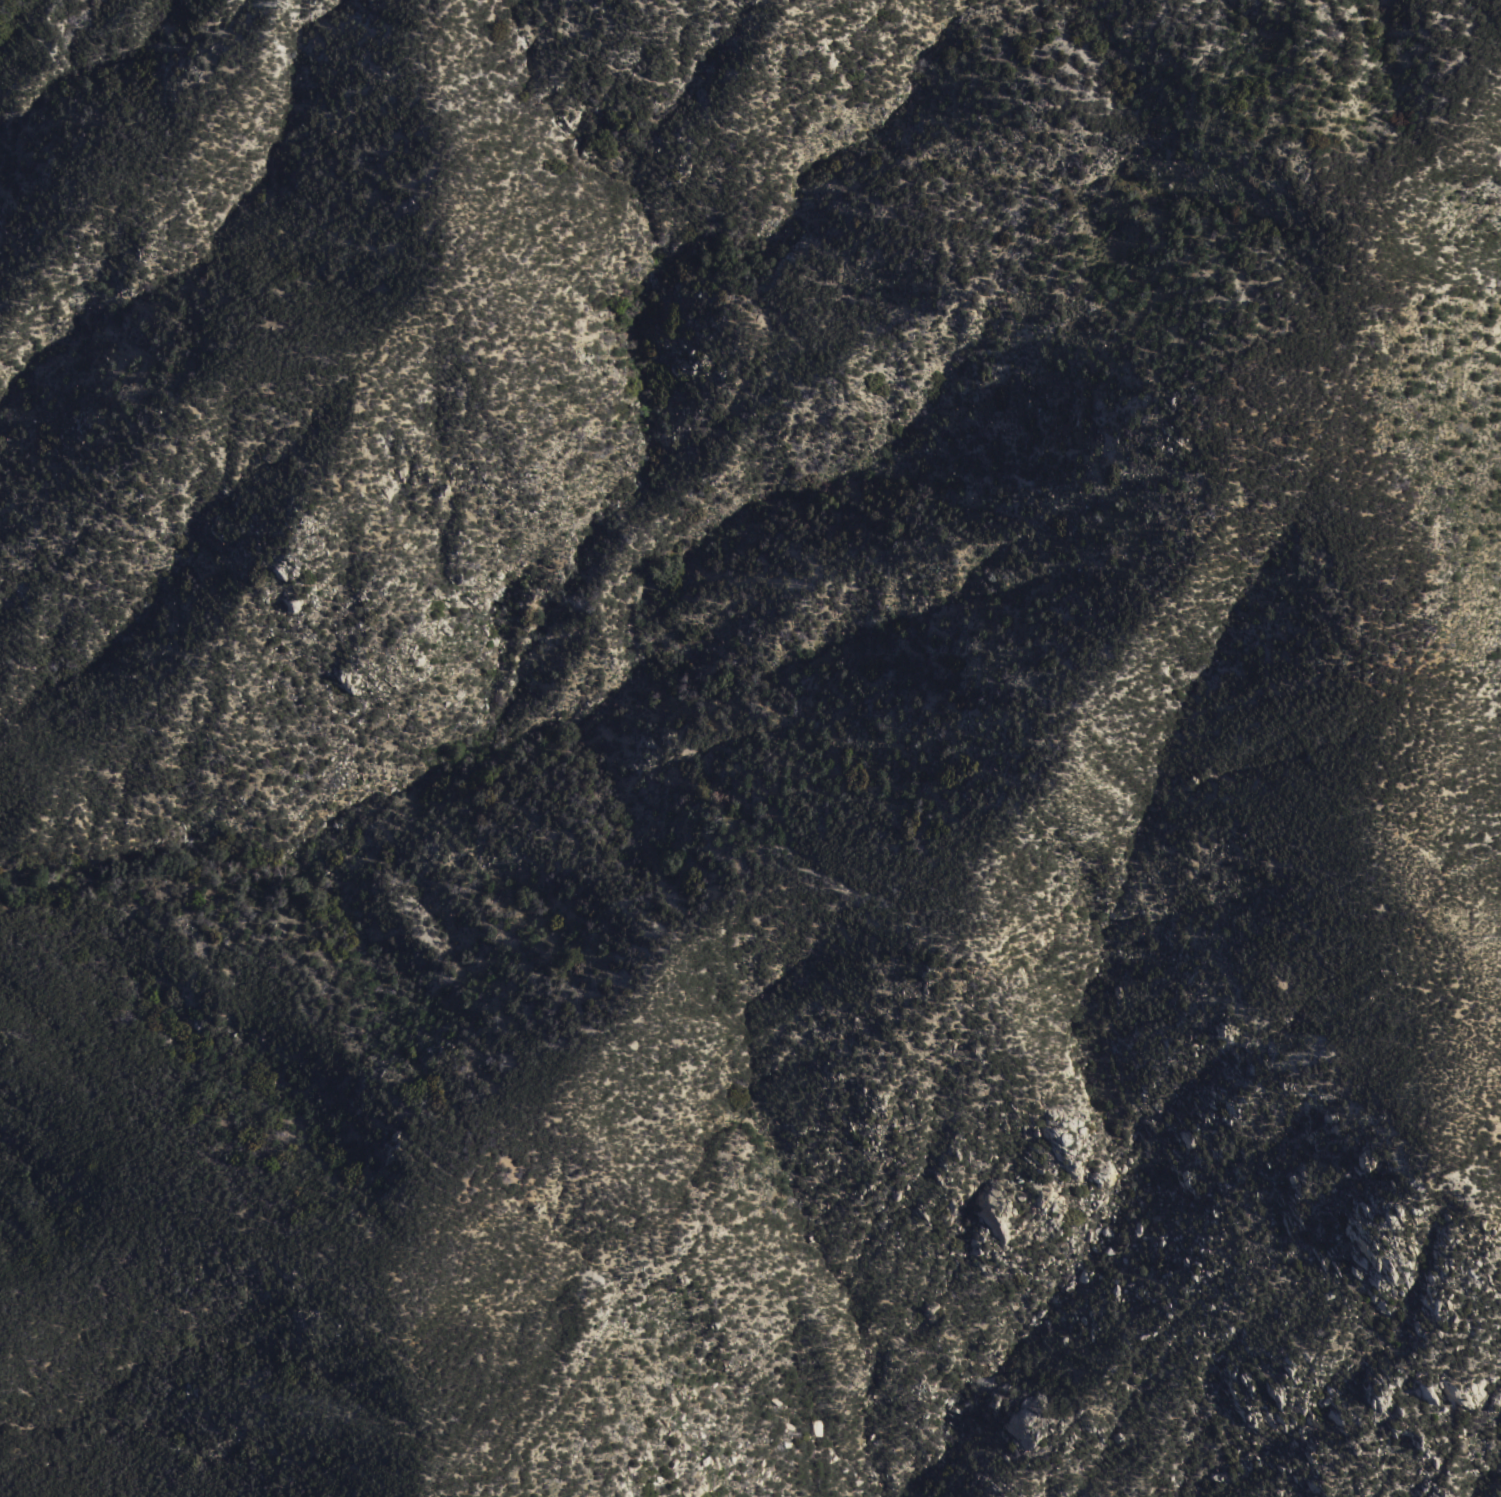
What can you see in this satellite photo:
road: (724, 126)
road: (100, 206)

